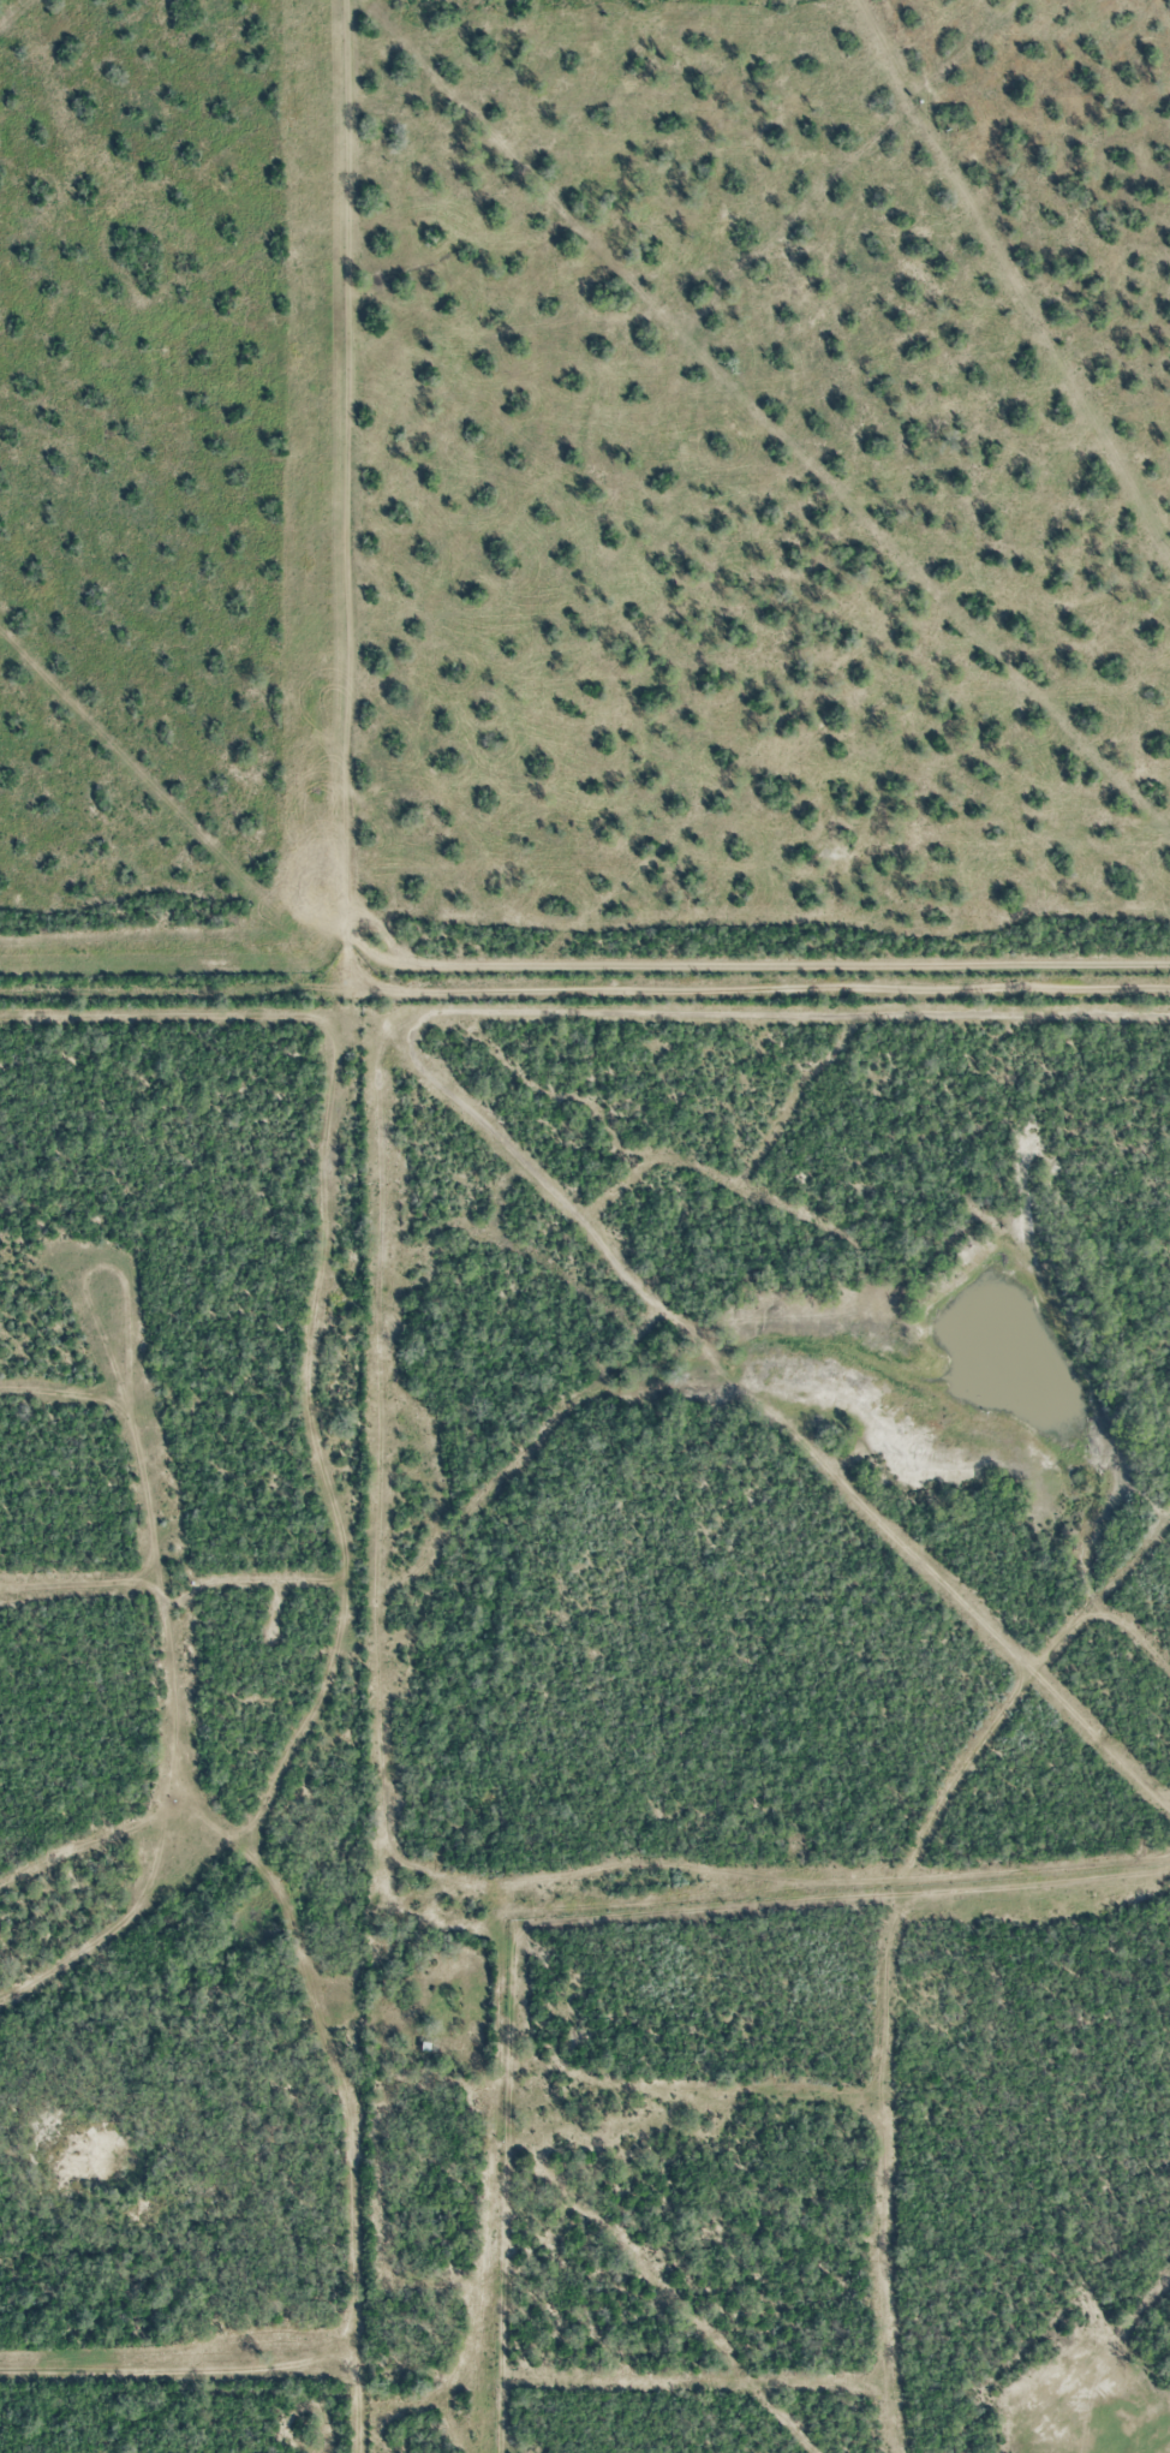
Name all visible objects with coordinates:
road: (222, 2370)

